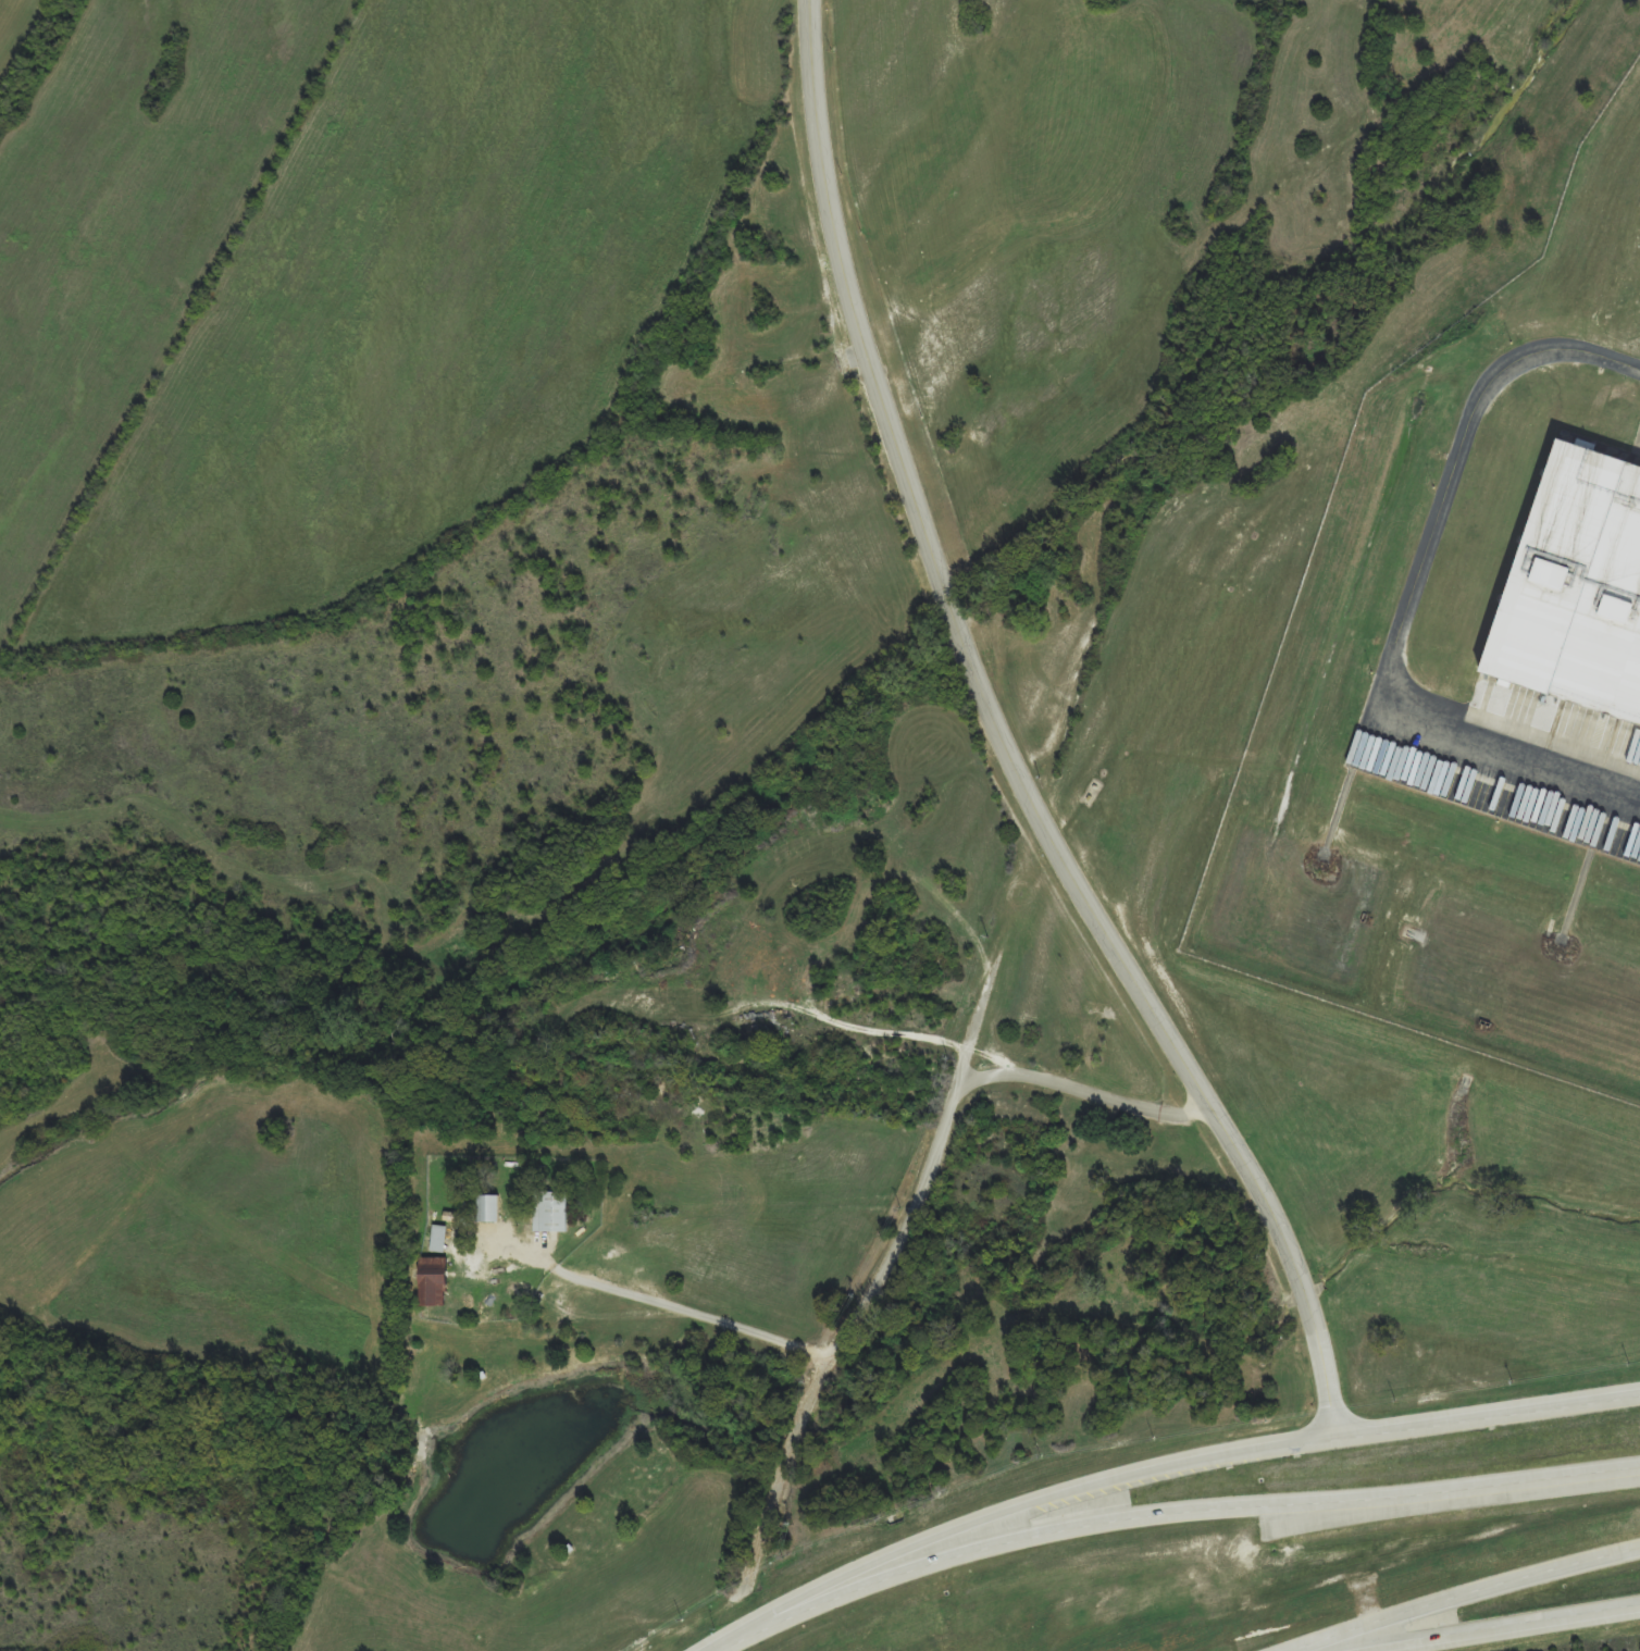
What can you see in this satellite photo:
building: (1585, 592)
road: (999, 743)
road: (954, 1110)
building: (492, 1209)
building: (554, 1213)
building: (454, 1217)
building: (440, 1239)
building: (436, 1283)
road: (686, 1315)
road: (1160, 1465)
road: (1564, 1478)
road: (1093, 1526)
road: (1462, 1599)
road: (1494, 1629)

